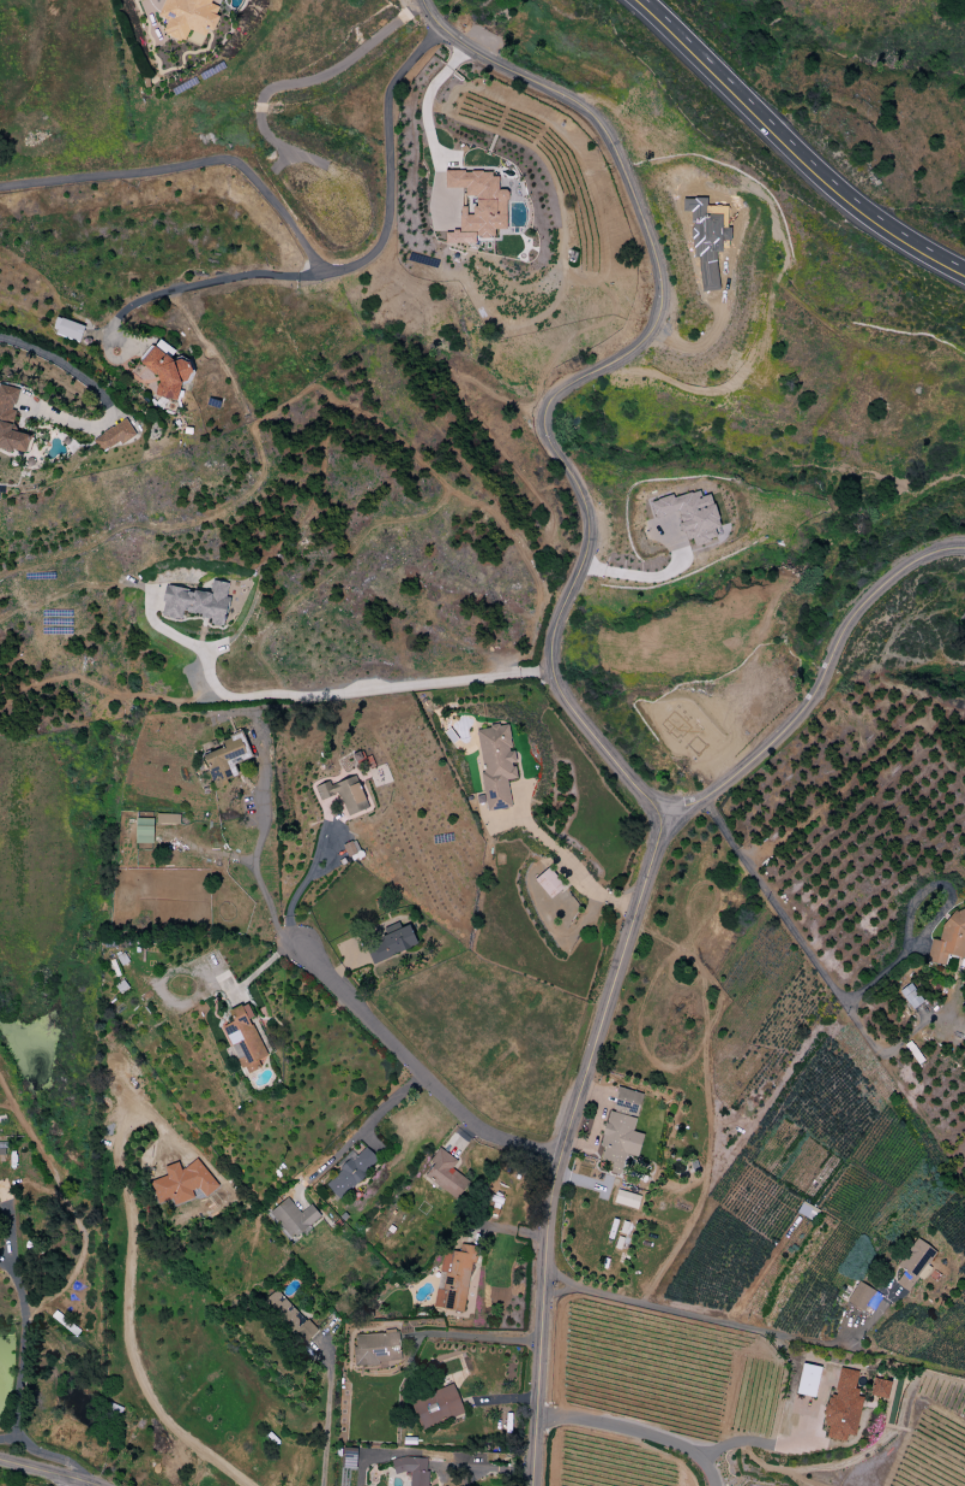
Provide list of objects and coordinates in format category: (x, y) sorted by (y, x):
building: (187, 17)
road: (427, 125)
road: (797, 145)
building: (477, 206)
road: (300, 240)
road: (206, 284)
road: (718, 327)
building: (67, 329)
building: (164, 348)
road: (73, 372)
building: (167, 373)
building: (10, 422)
building: (114, 436)
building: (690, 514)
road: (582, 552)
building: (196, 602)
road: (320, 694)
building: (226, 759)
building: (496, 765)
building: (344, 794)
building: (167, 818)
building: (143, 832)
building: (351, 850)
road: (570, 868)
road: (256, 876)
road: (302, 882)
building: (548, 883)
road: (789, 927)
building: (949, 939)
building: (391, 943)
building: (910, 996)
building: (244, 1039)
road: (418, 1070)
road: (367, 1128)
building: (621, 1130)
road: (561, 1144)
building: (350, 1171)
building: (445, 1174)
building: (183, 1183)
building: (626, 1199)
building: (807, 1211)
building: (293, 1218)
building: (913, 1263)
road: (67, 1264)
building: (454, 1278)
building: (860, 1296)
road: (127, 1297)
road: (15, 1311)
building: (288, 1317)
road: (728, 1323)
road: (473, 1336)
building: (377, 1348)
building: (807, 1380)
building: (879, 1388)
building: (436, 1407)
building: (842, 1407)
road: (329, 1411)
road: (638, 1431)
road: (775, 1443)
road: (53, 1456)
road: (482, 1468)
building: (412, 1469)
road: (47, 1471)
road: (70, 1482)

